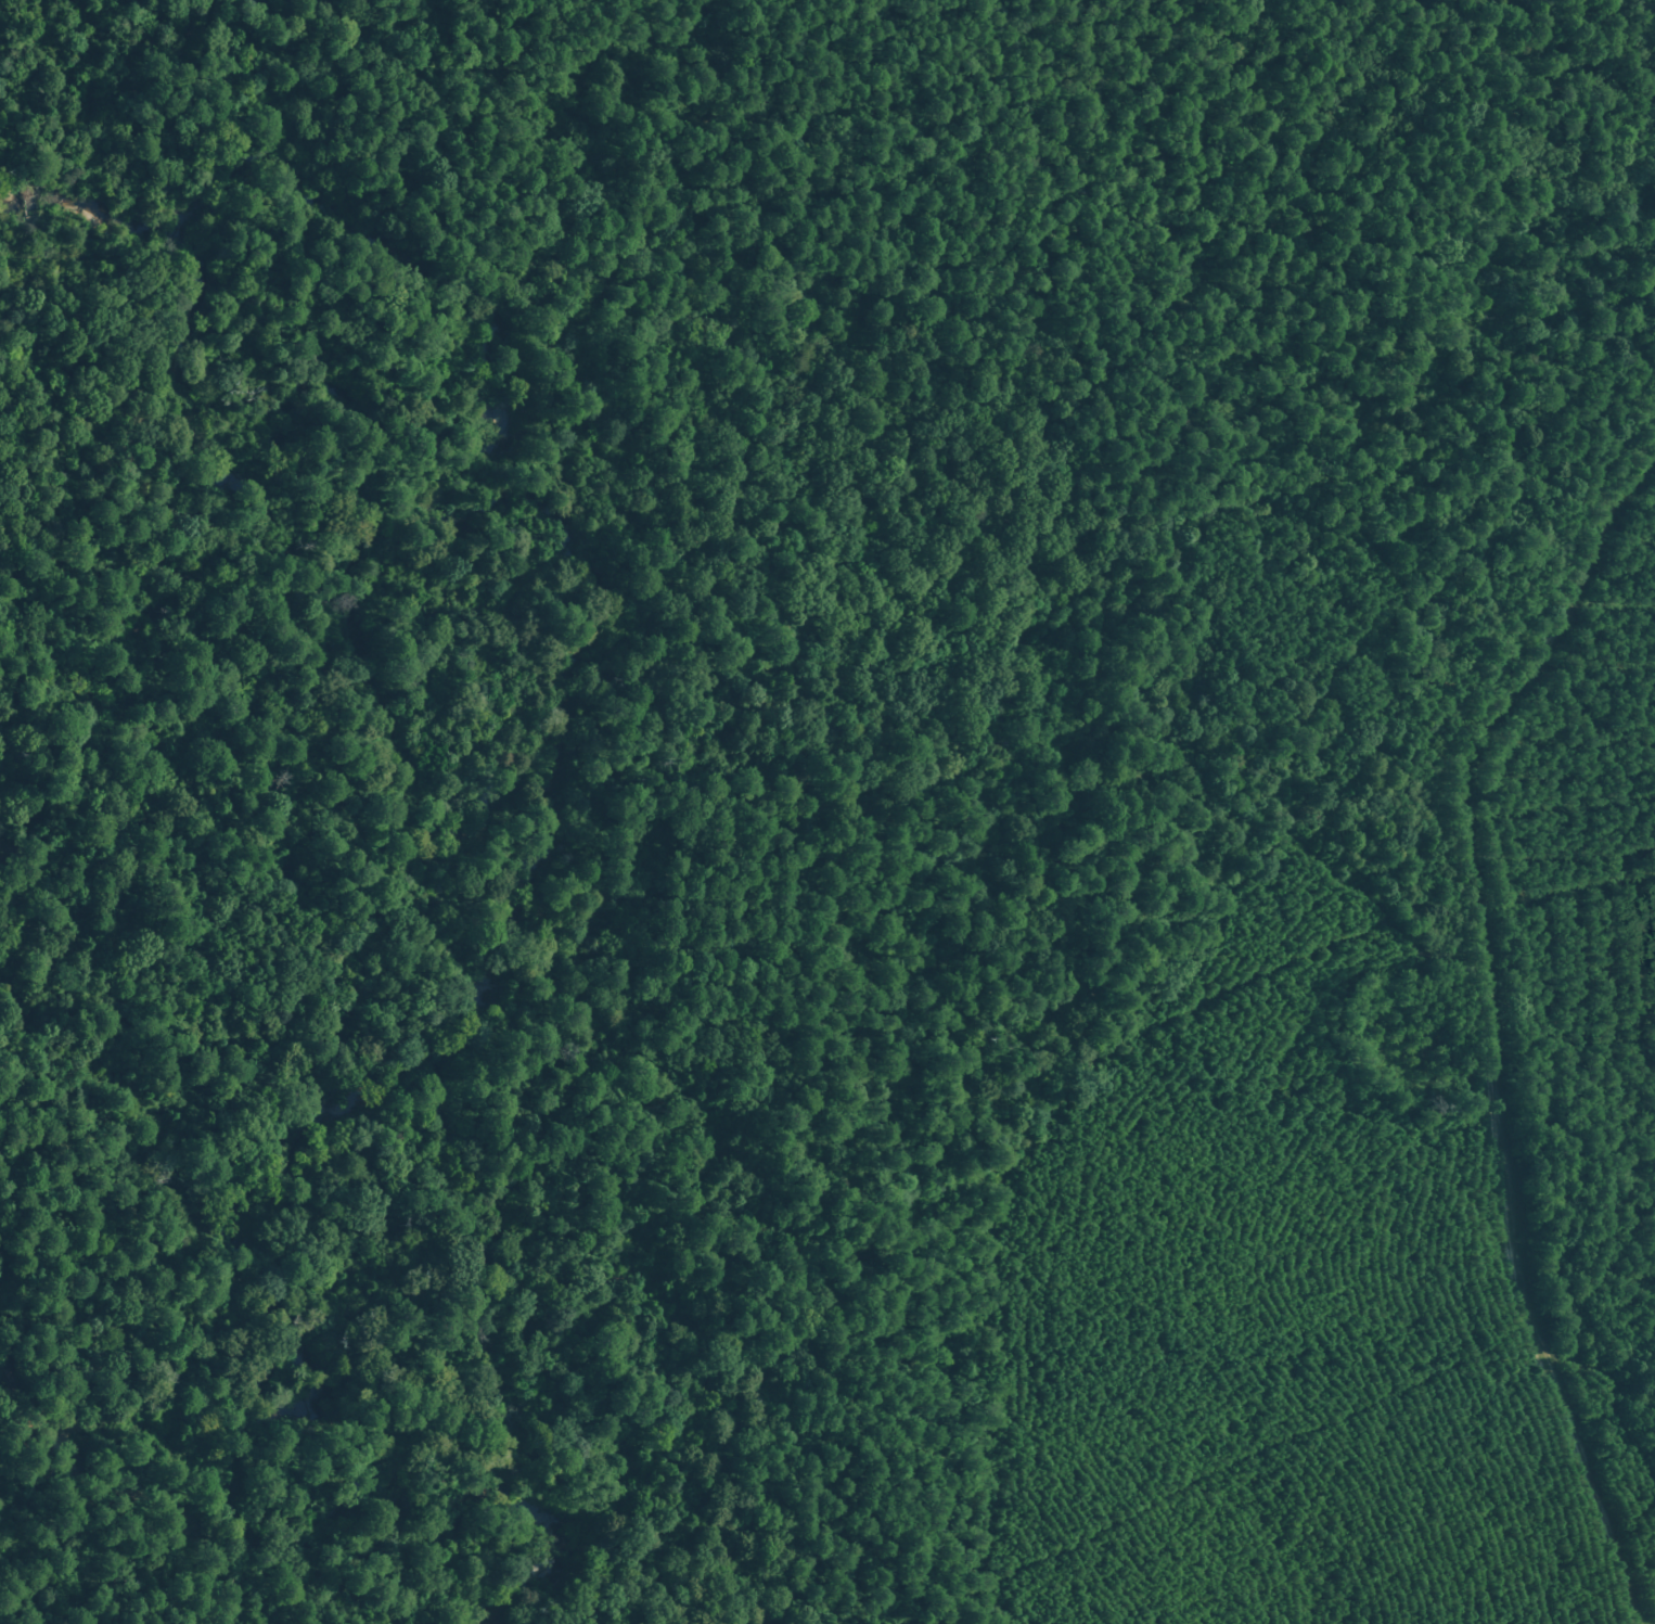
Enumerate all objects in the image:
road: (1491, 1022)

